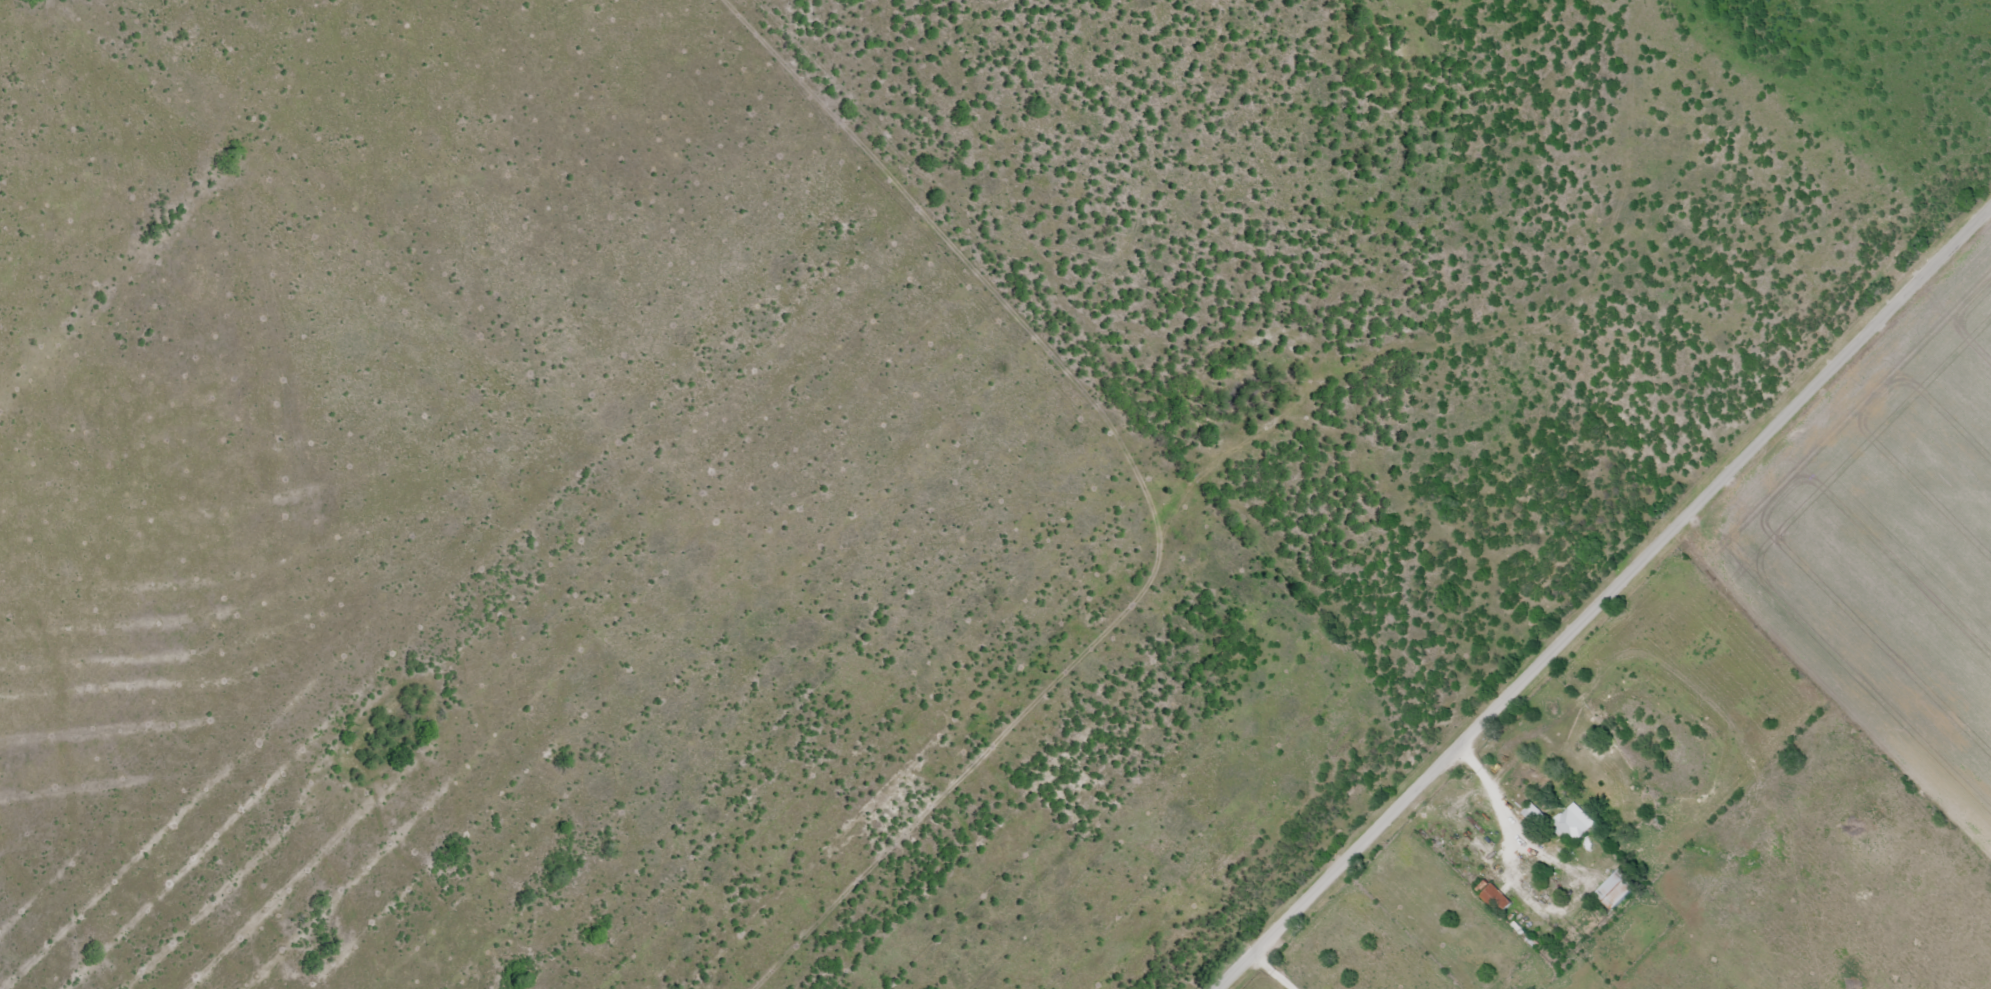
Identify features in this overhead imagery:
road: (1601, 594)
building: (1575, 823)
building: (1617, 891)
building: (1495, 894)

